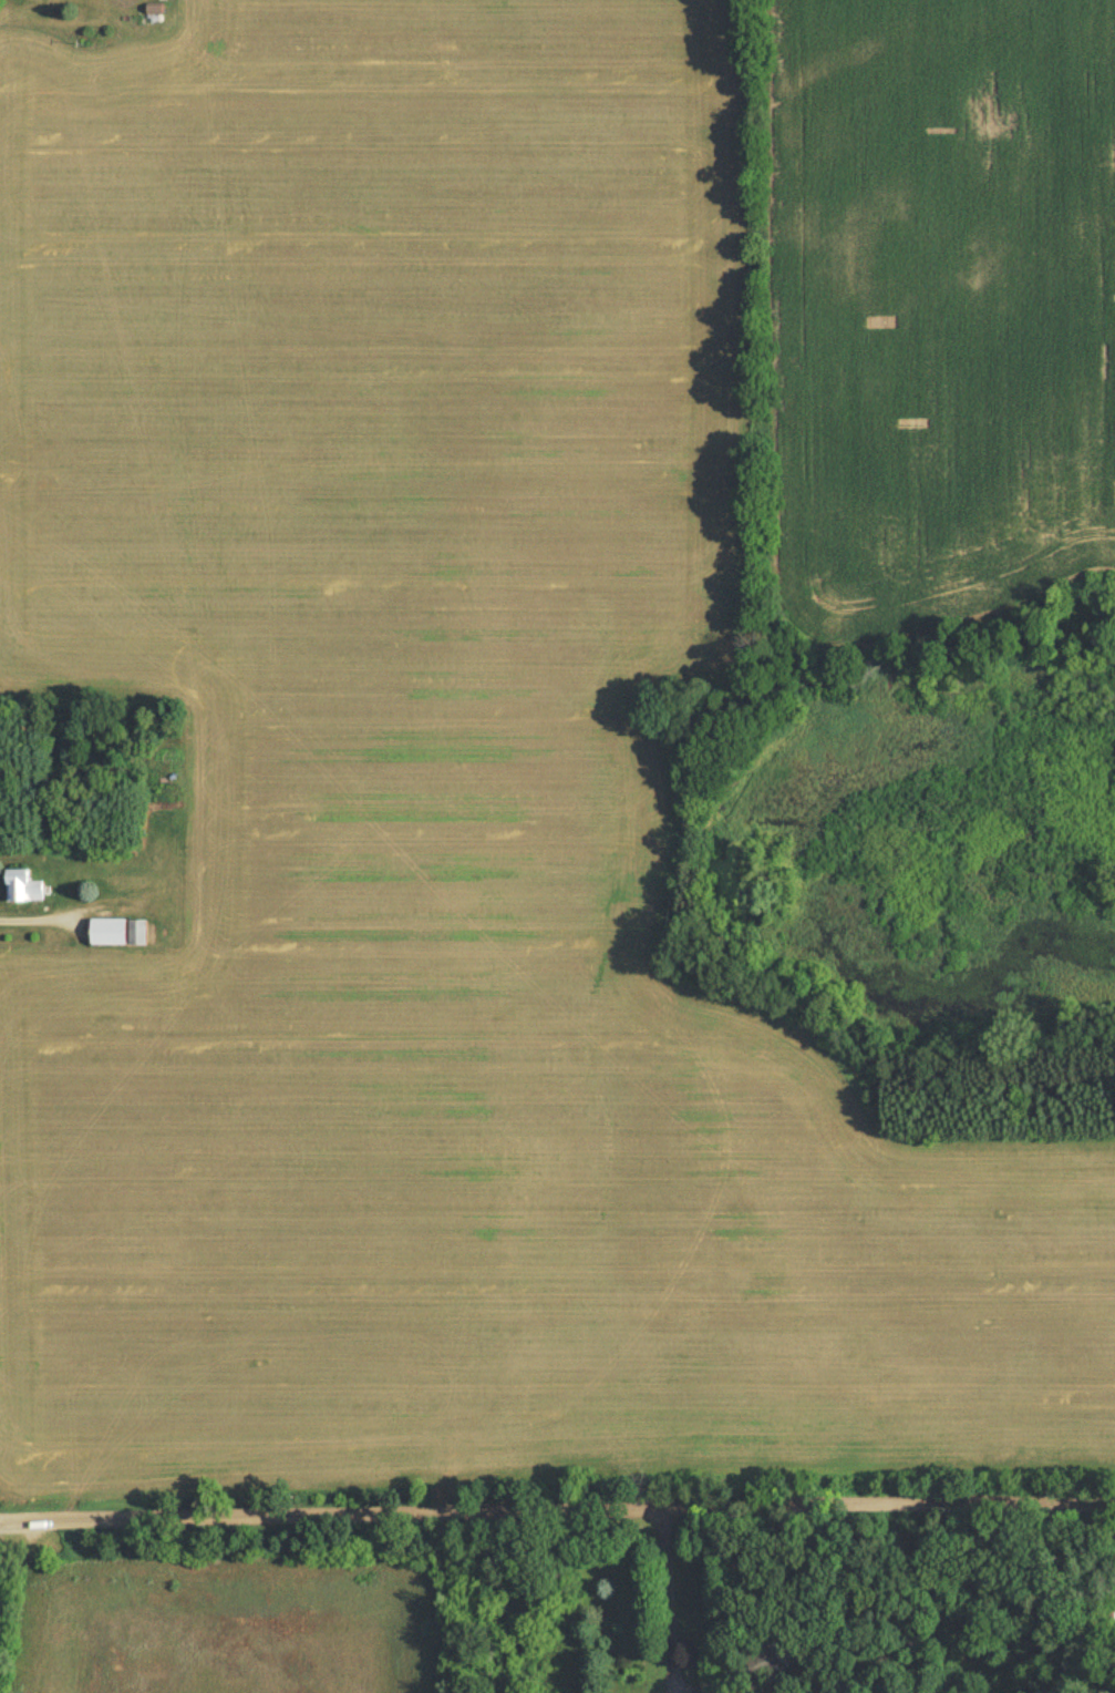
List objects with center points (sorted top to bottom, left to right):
building: (24, 891)
building: (116, 935)
road: (557, 1509)
road: (1113, 1510)
road: (667, 1600)

